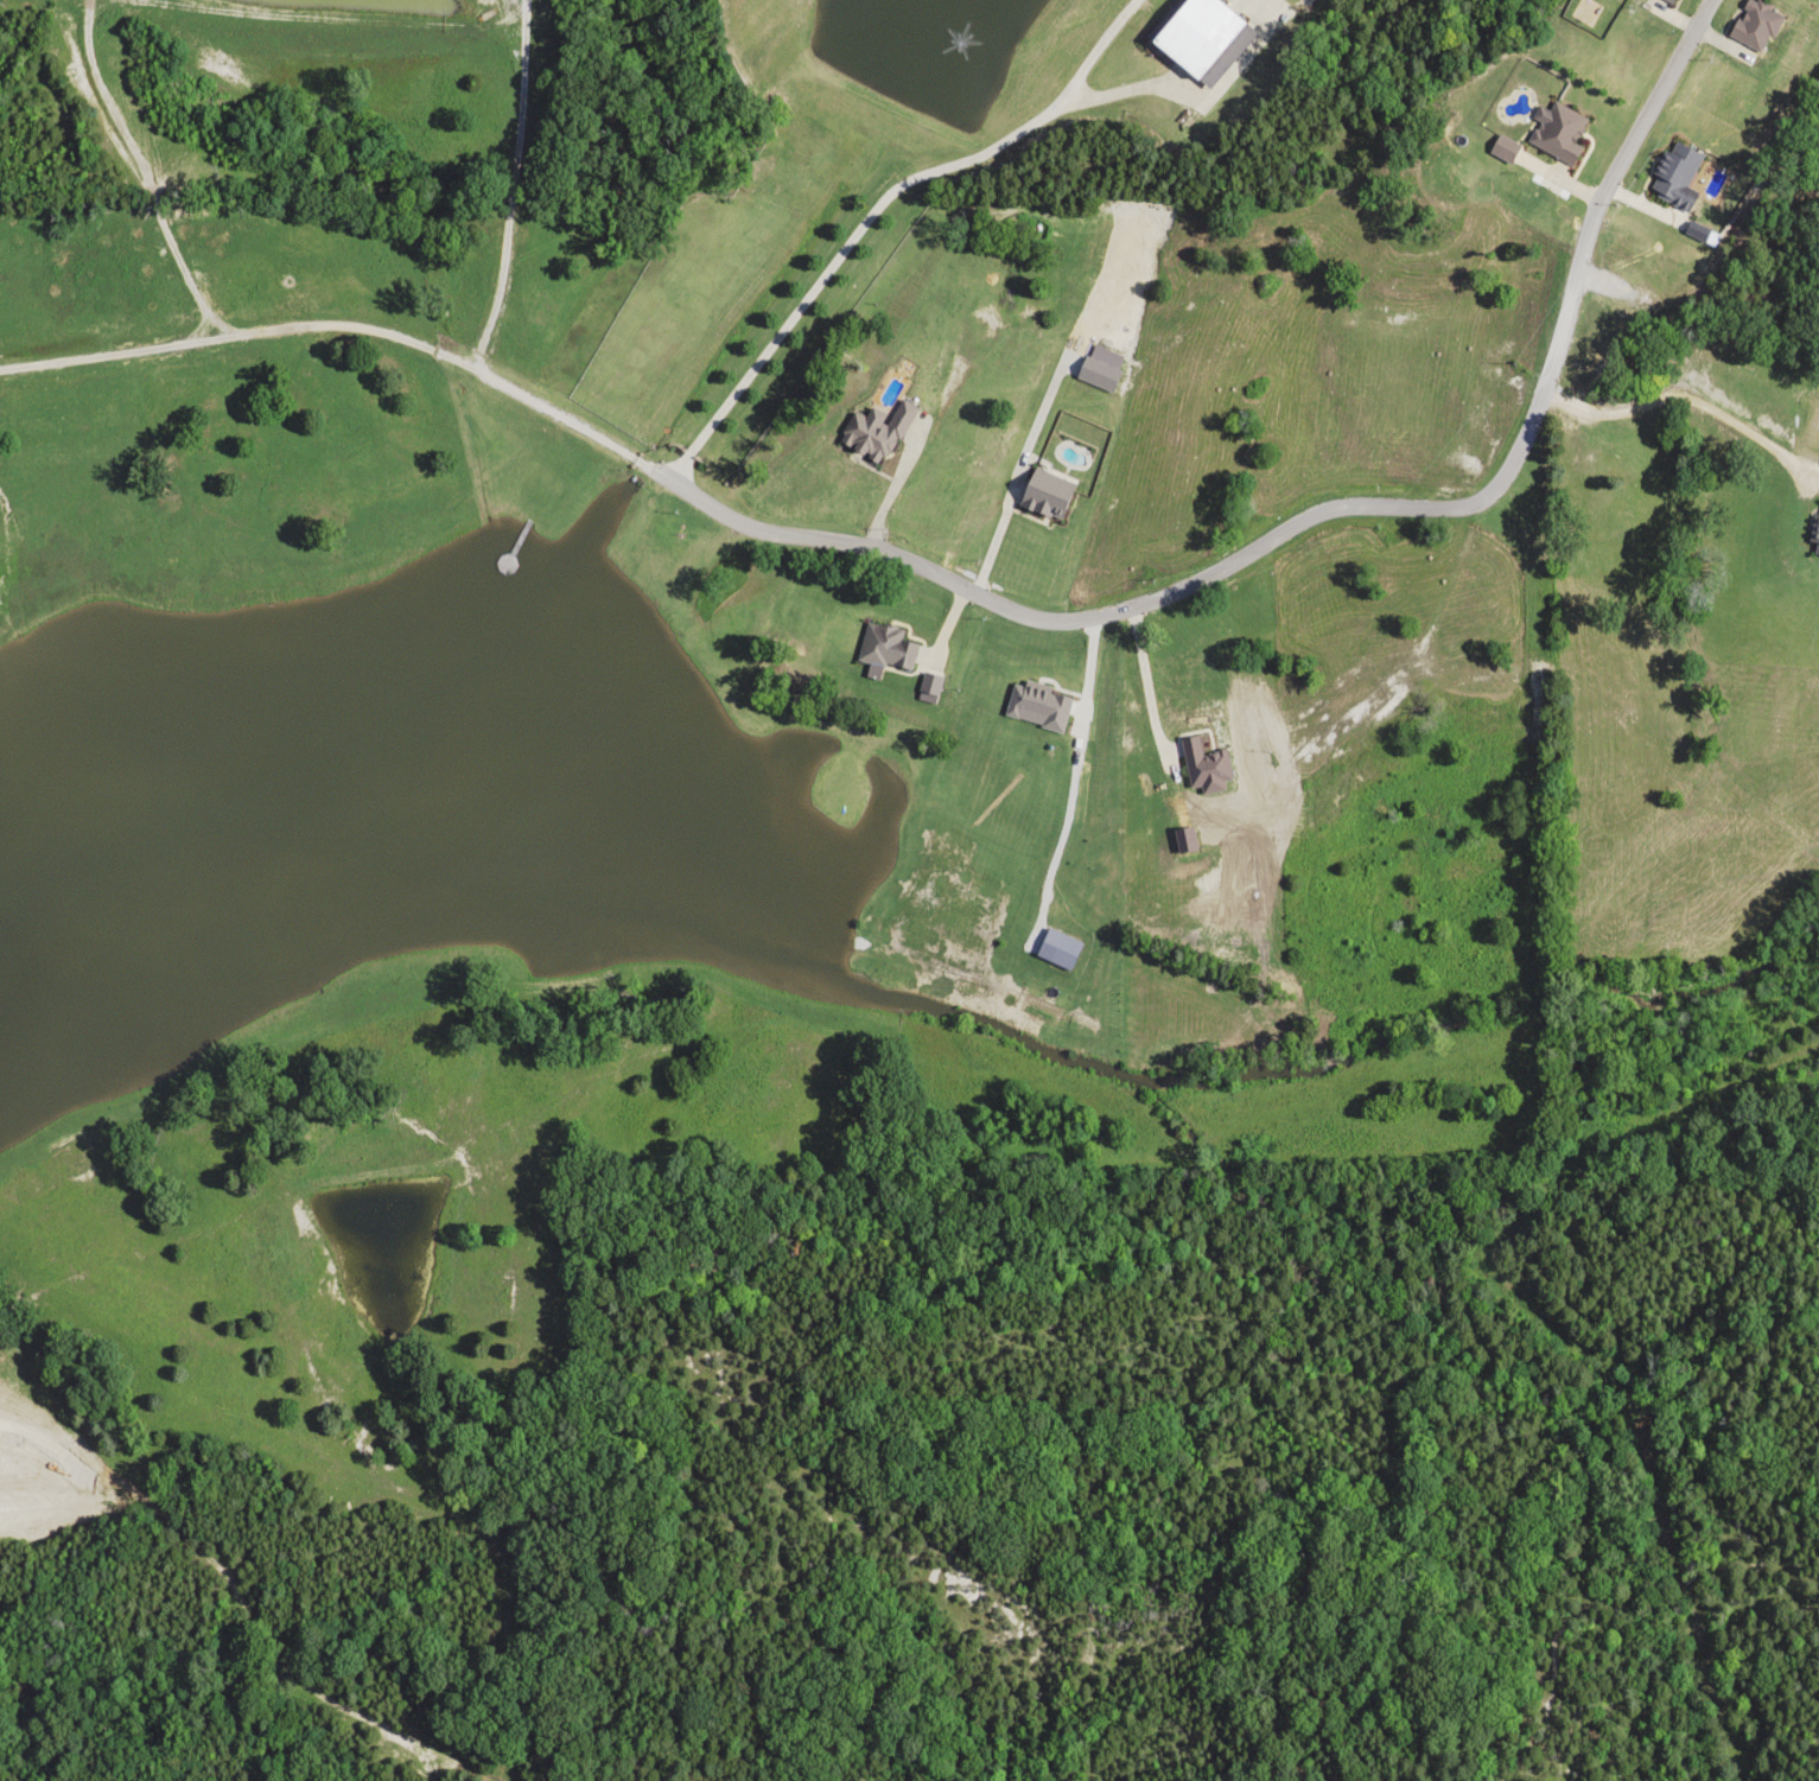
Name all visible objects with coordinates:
building: (1668, 0)
building: (1751, 24)
building: (1198, 38)
road: (1642, 126)
building: (1556, 132)
building: (1501, 147)
building: (1672, 176)
building: (874, 431)
building: (1814, 530)
building: (885, 645)

